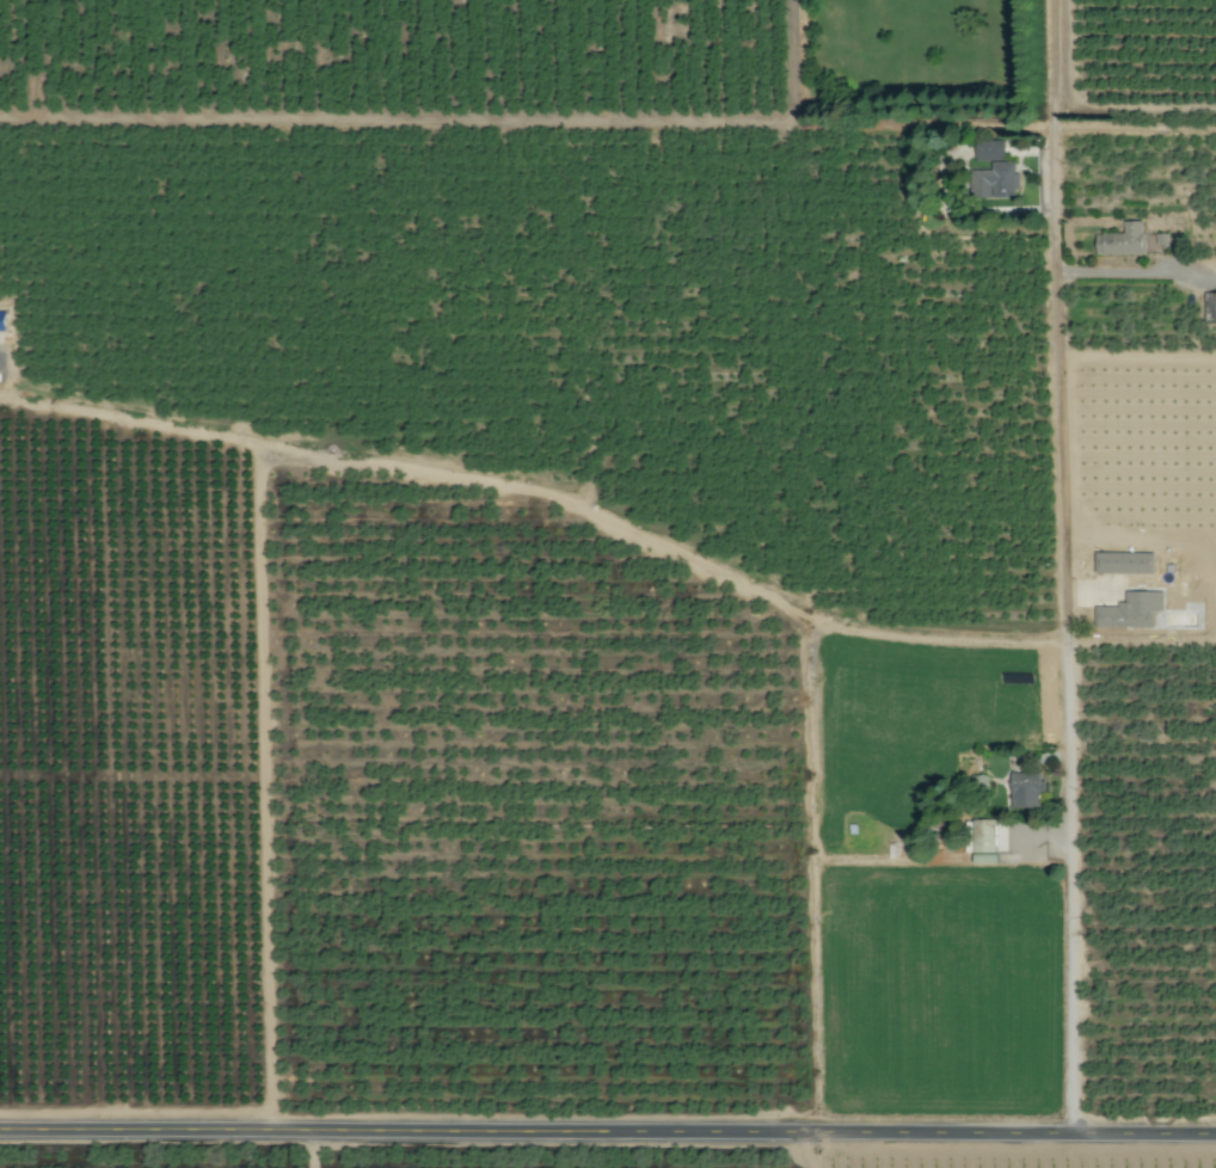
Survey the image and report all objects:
road: (528, 118)
building: (988, 150)
building: (994, 182)
building: (1123, 240)
road: (1131, 272)
building: (1209, 307)
building: (1, 321)
road: (529, 493)
building: (1124, 563)
road: (1065, 566)
building: (1130, 610)
building: (1025, 789)
building: (983, 836)
building: (984, 857)
road: (608, 1131)

